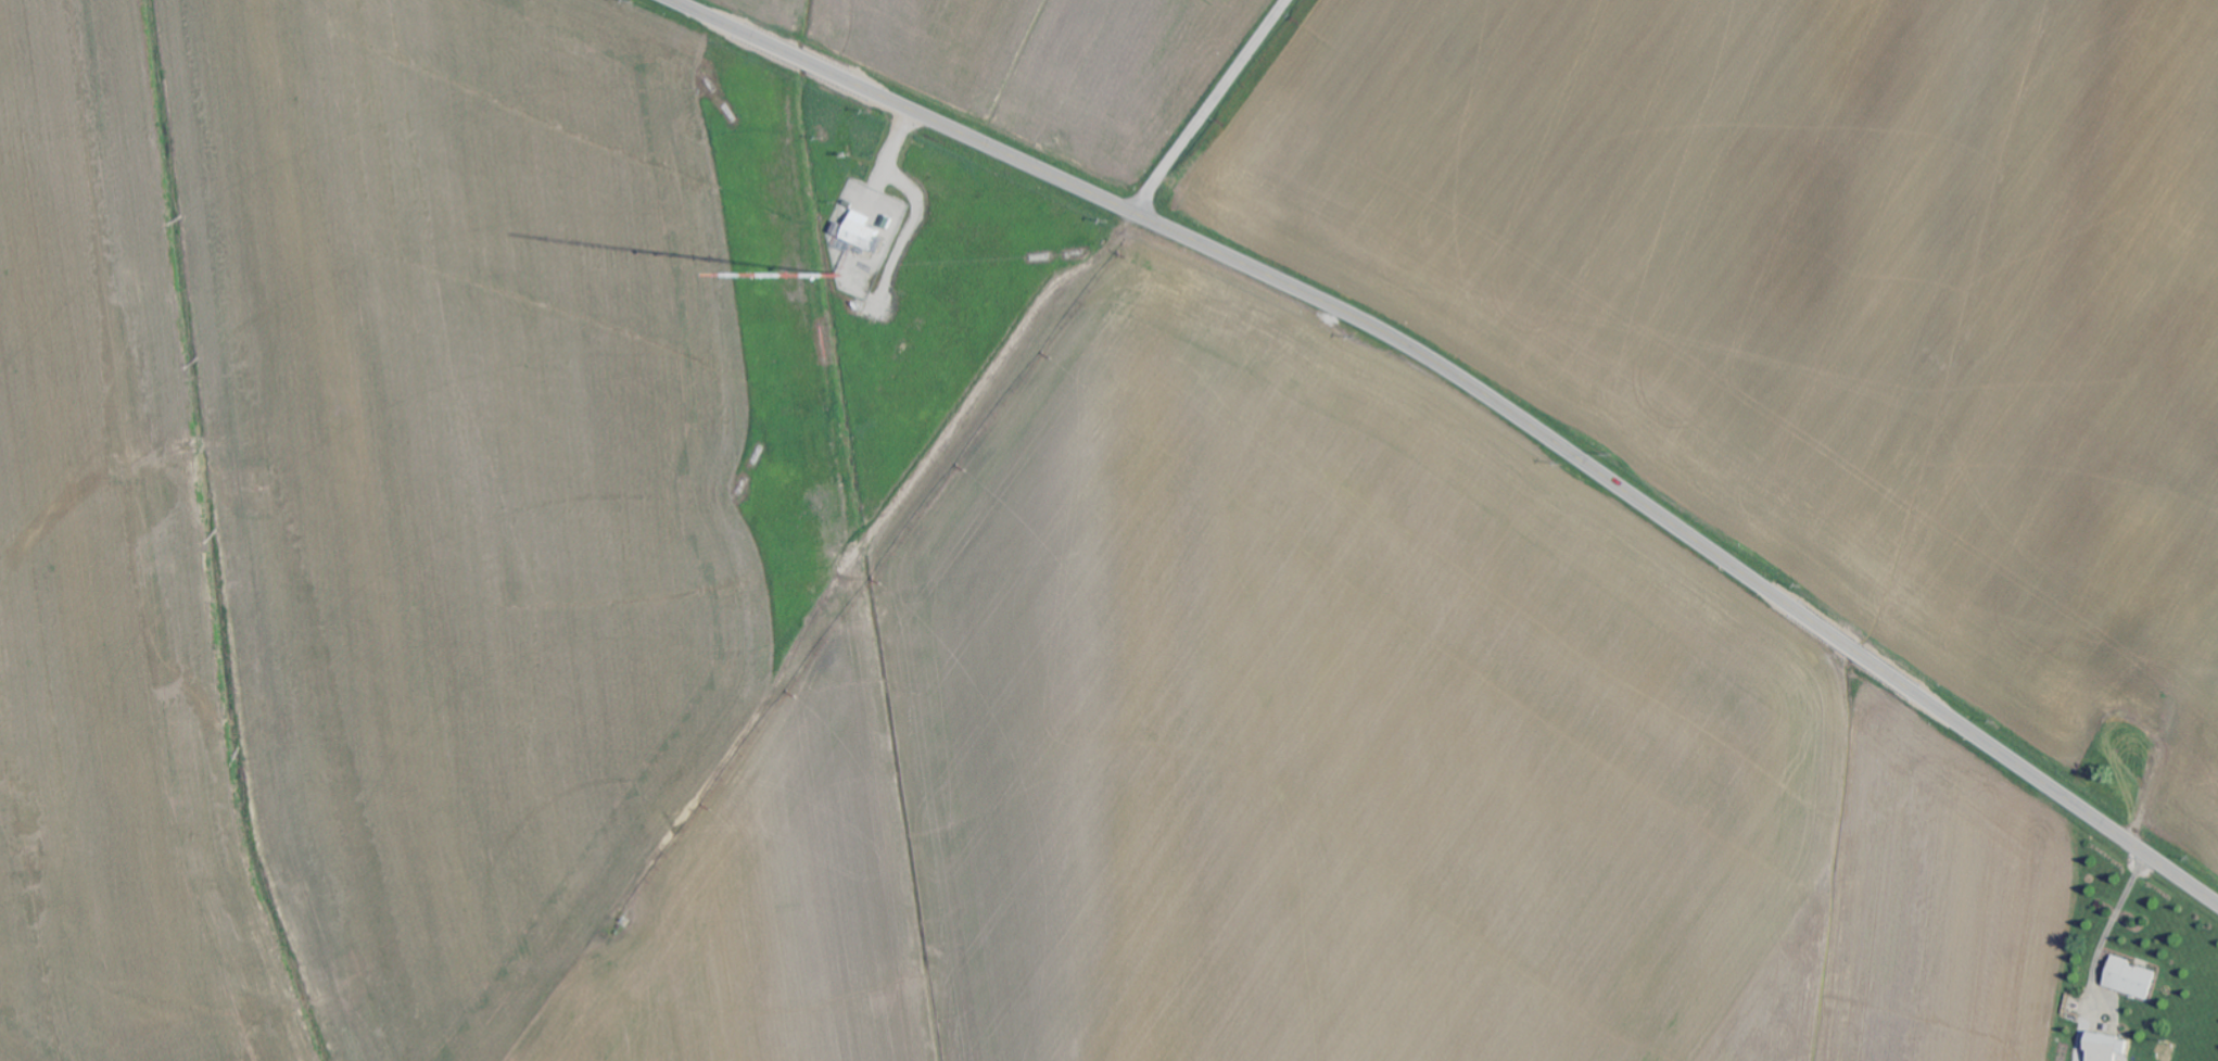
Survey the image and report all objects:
road: (1209, 105)
building: (861, 231)
road: (1480, 391)
road: (2102, 953)
building: (2132, 978)
building: (2107, 1048)

